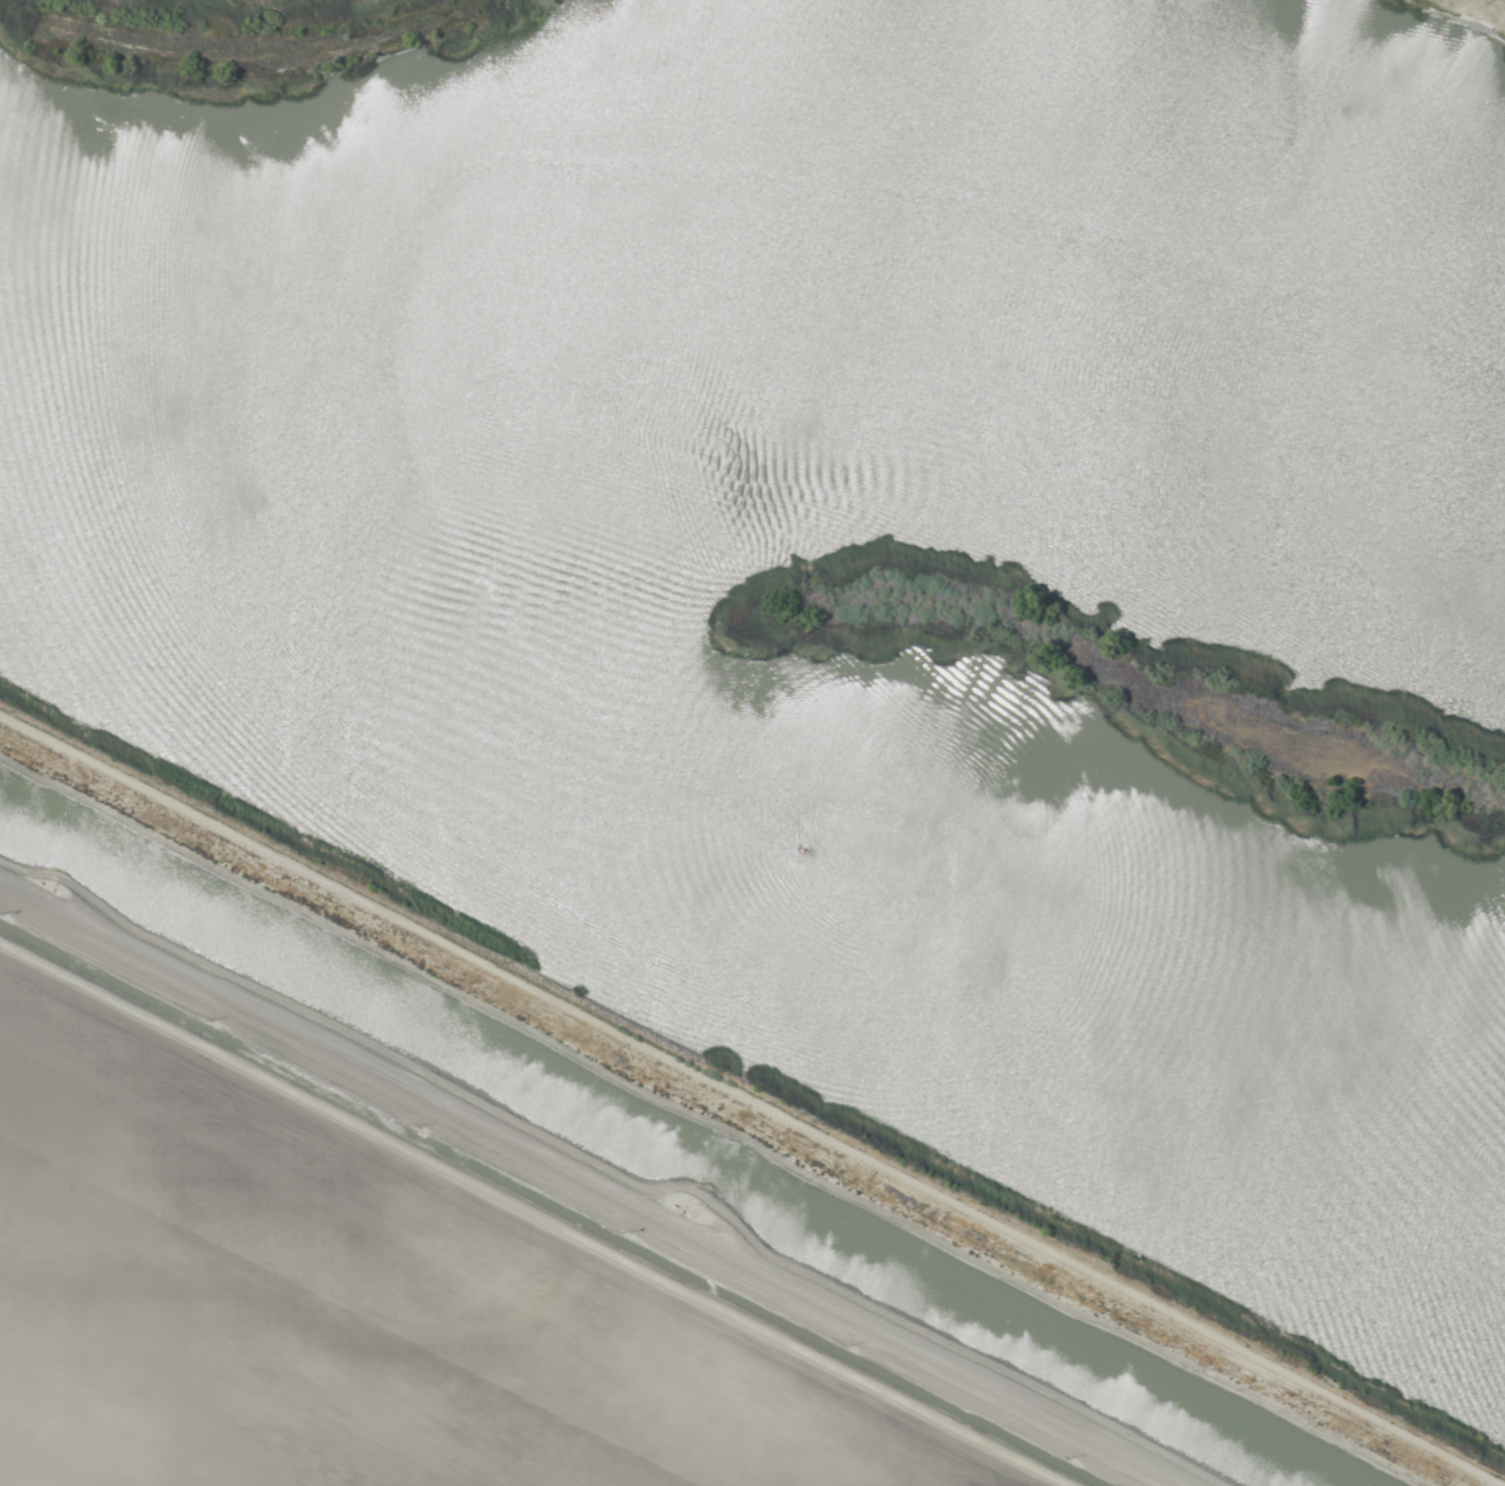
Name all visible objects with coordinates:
crop: (431, 1263)

